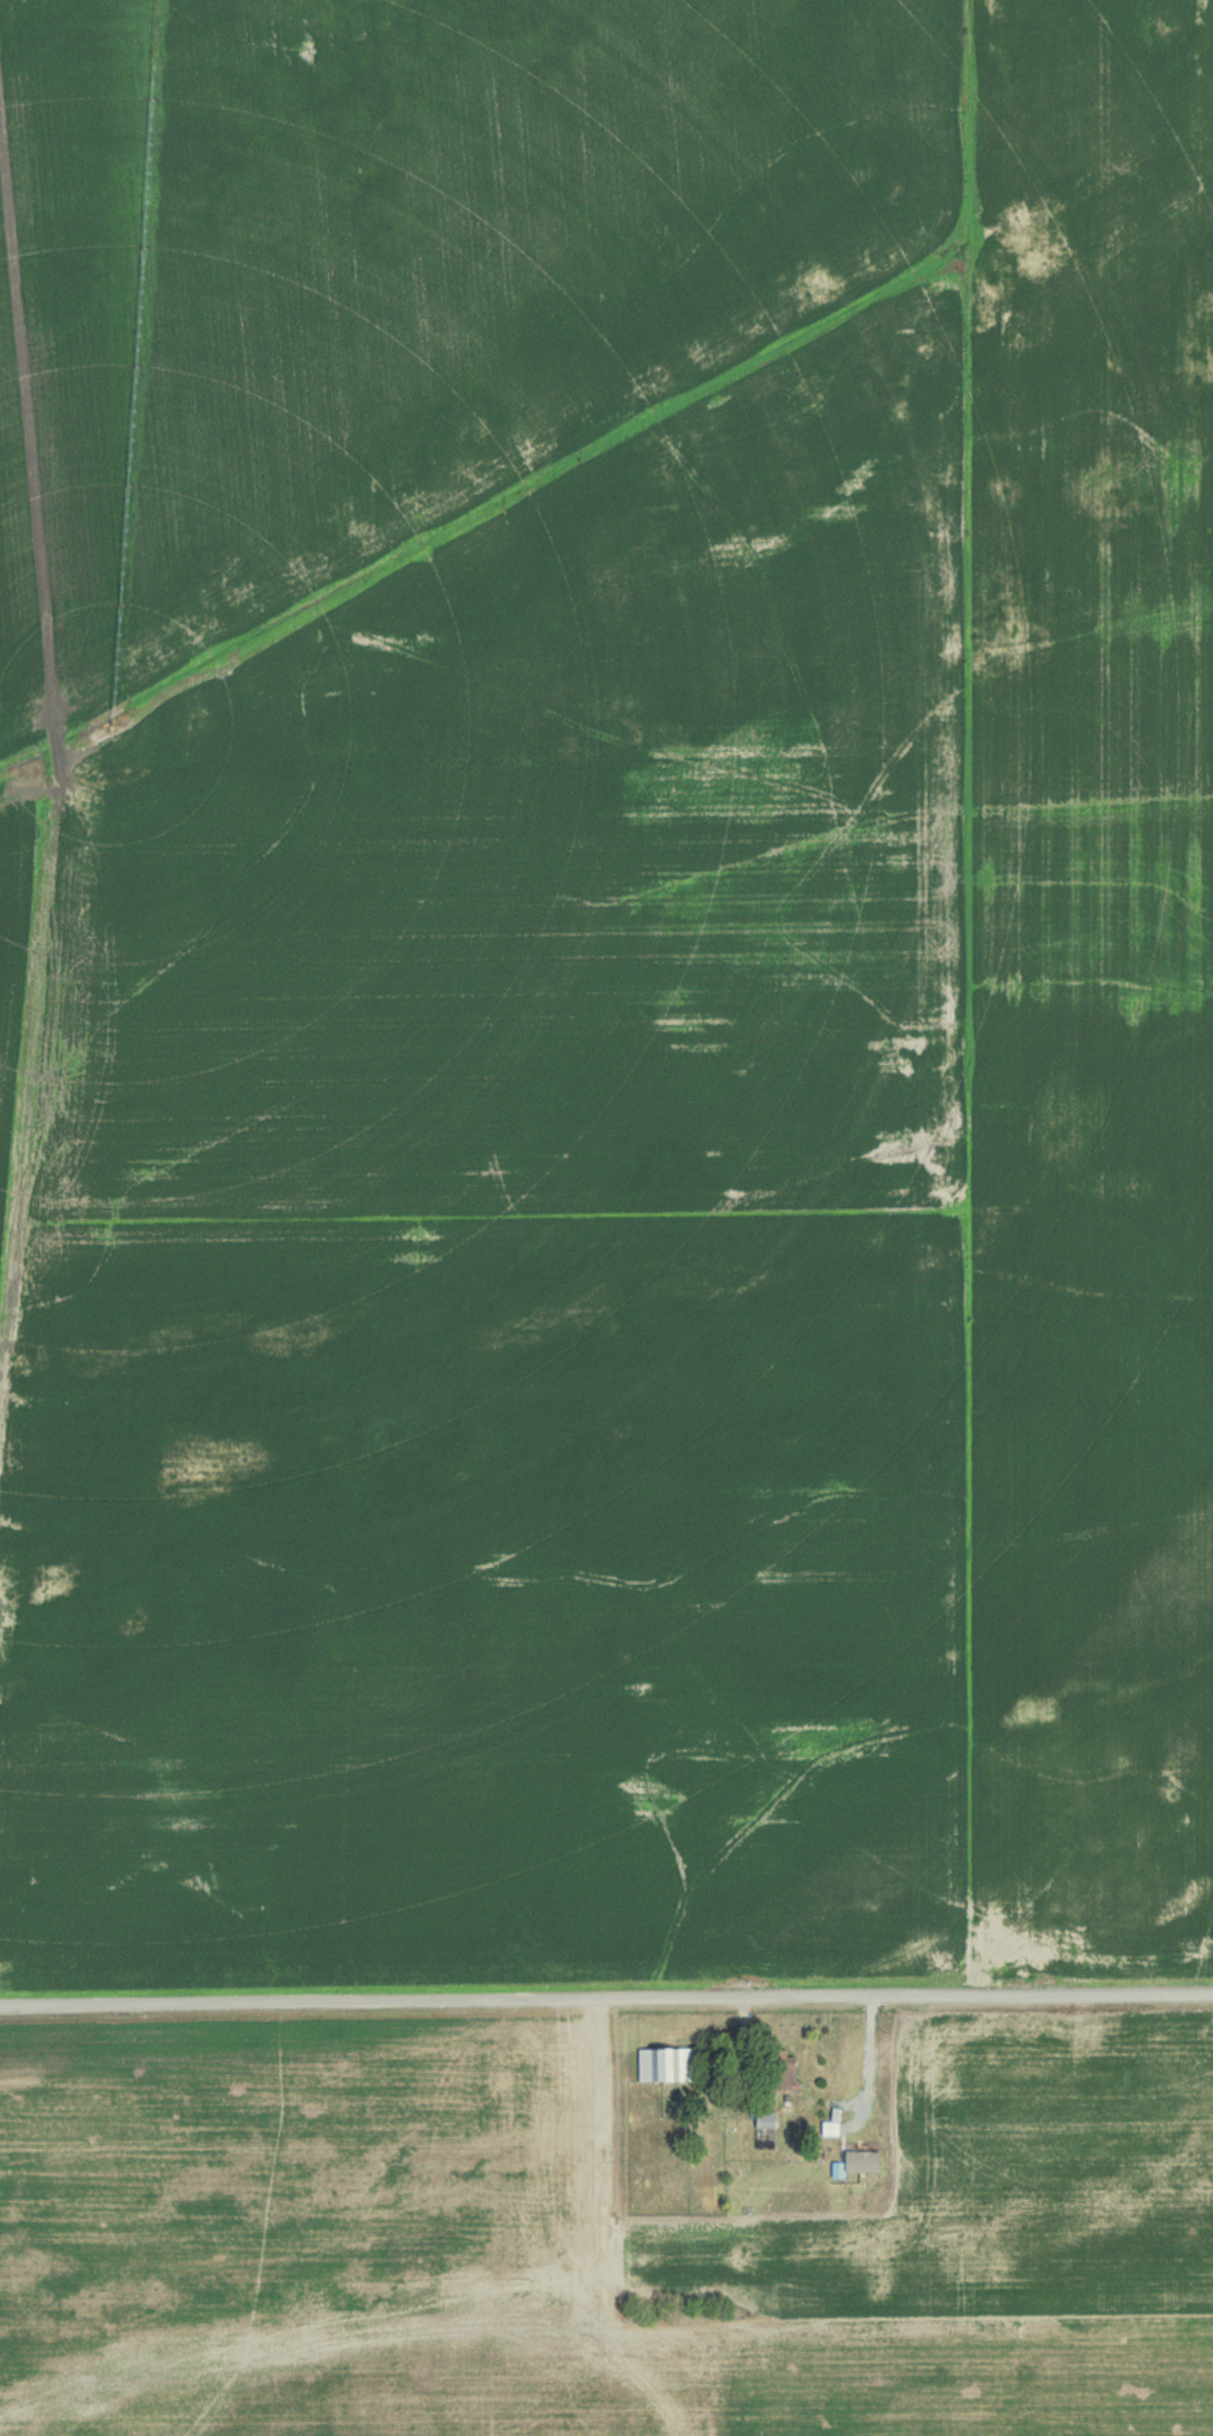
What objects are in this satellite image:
road: (606, 1995)
building: (661, 2064)
building: (784, 2071)
building: (764, 2119)
building: (762, 2137)
building: (859, 2160)

